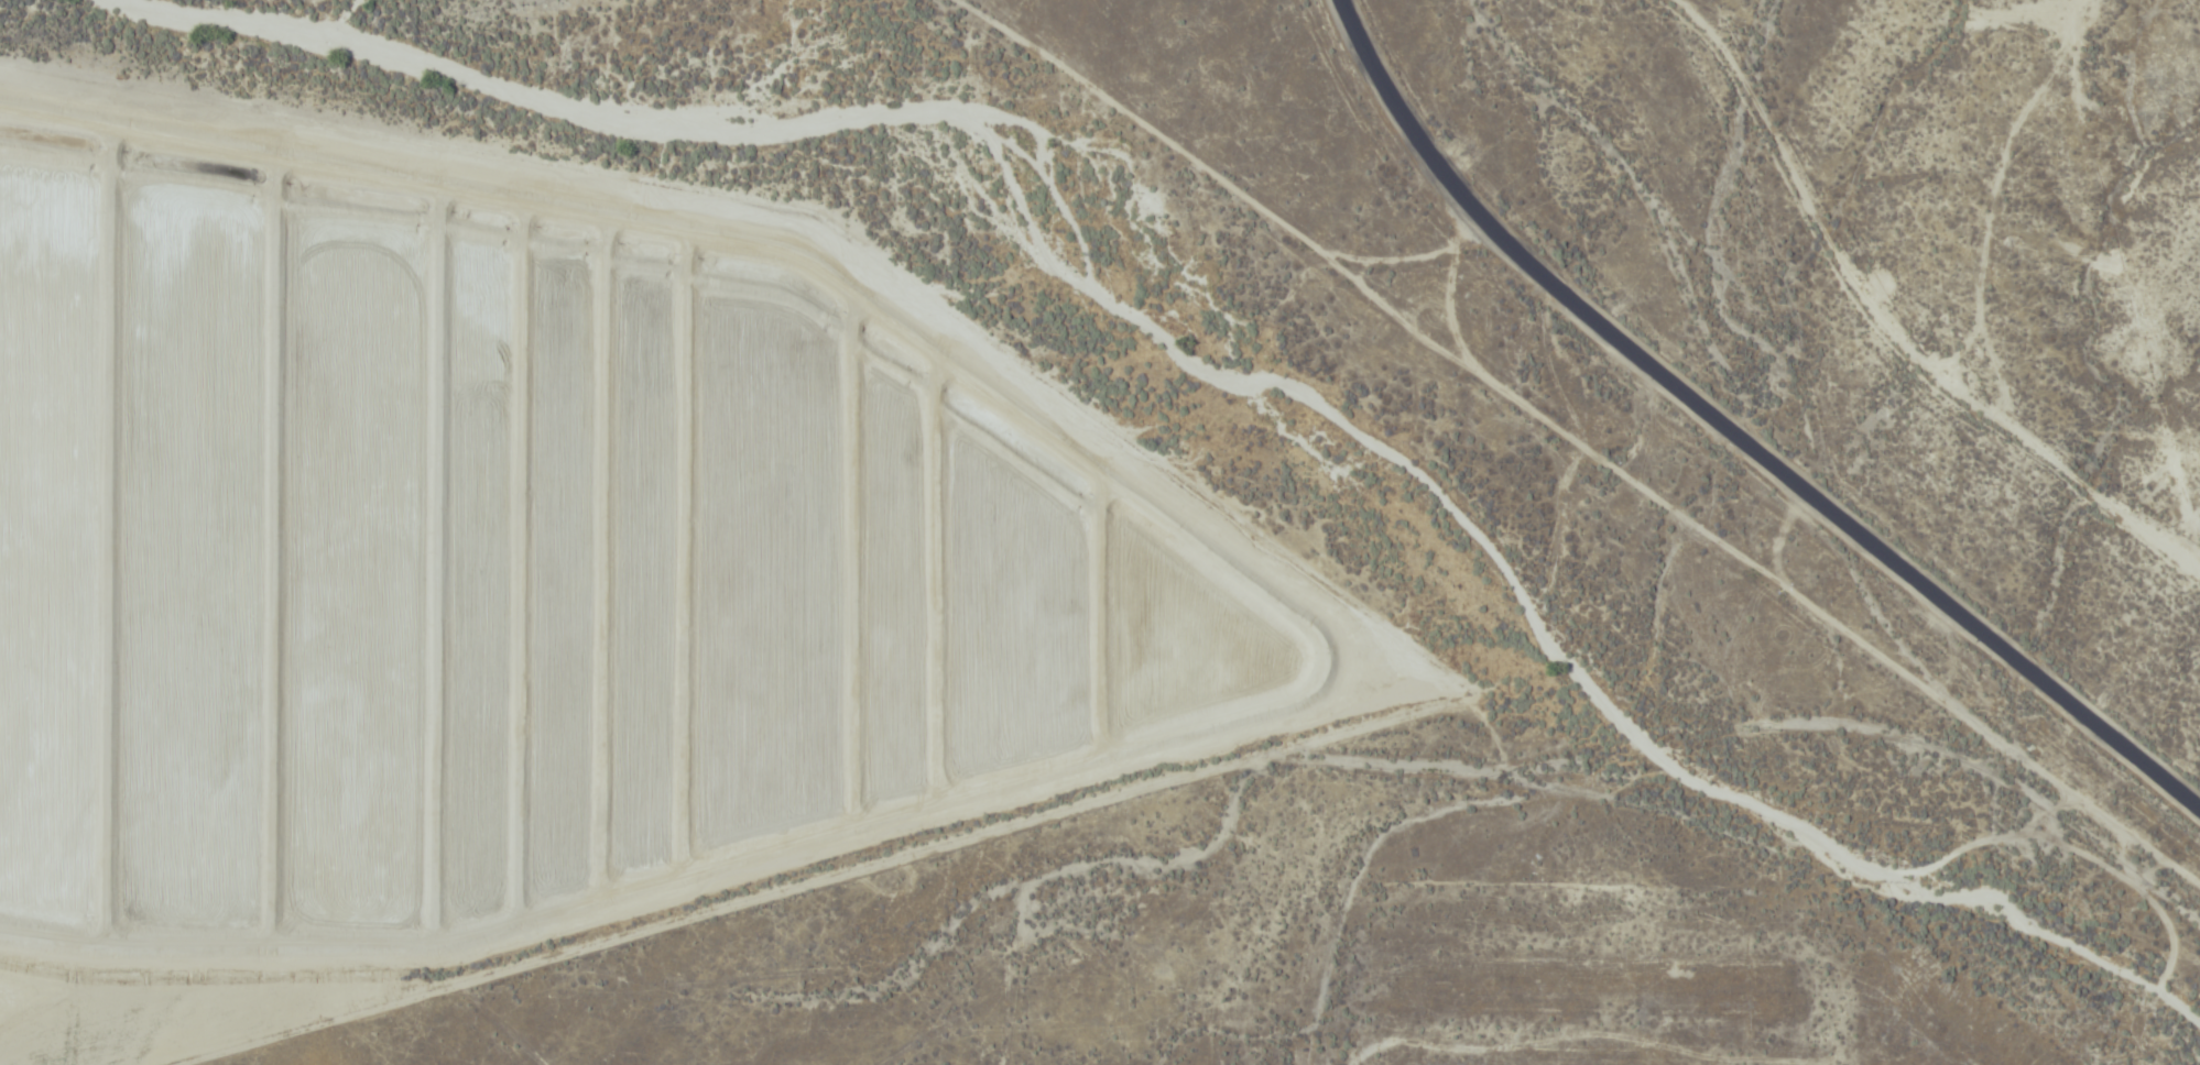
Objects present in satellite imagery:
road: (1739, 435)

